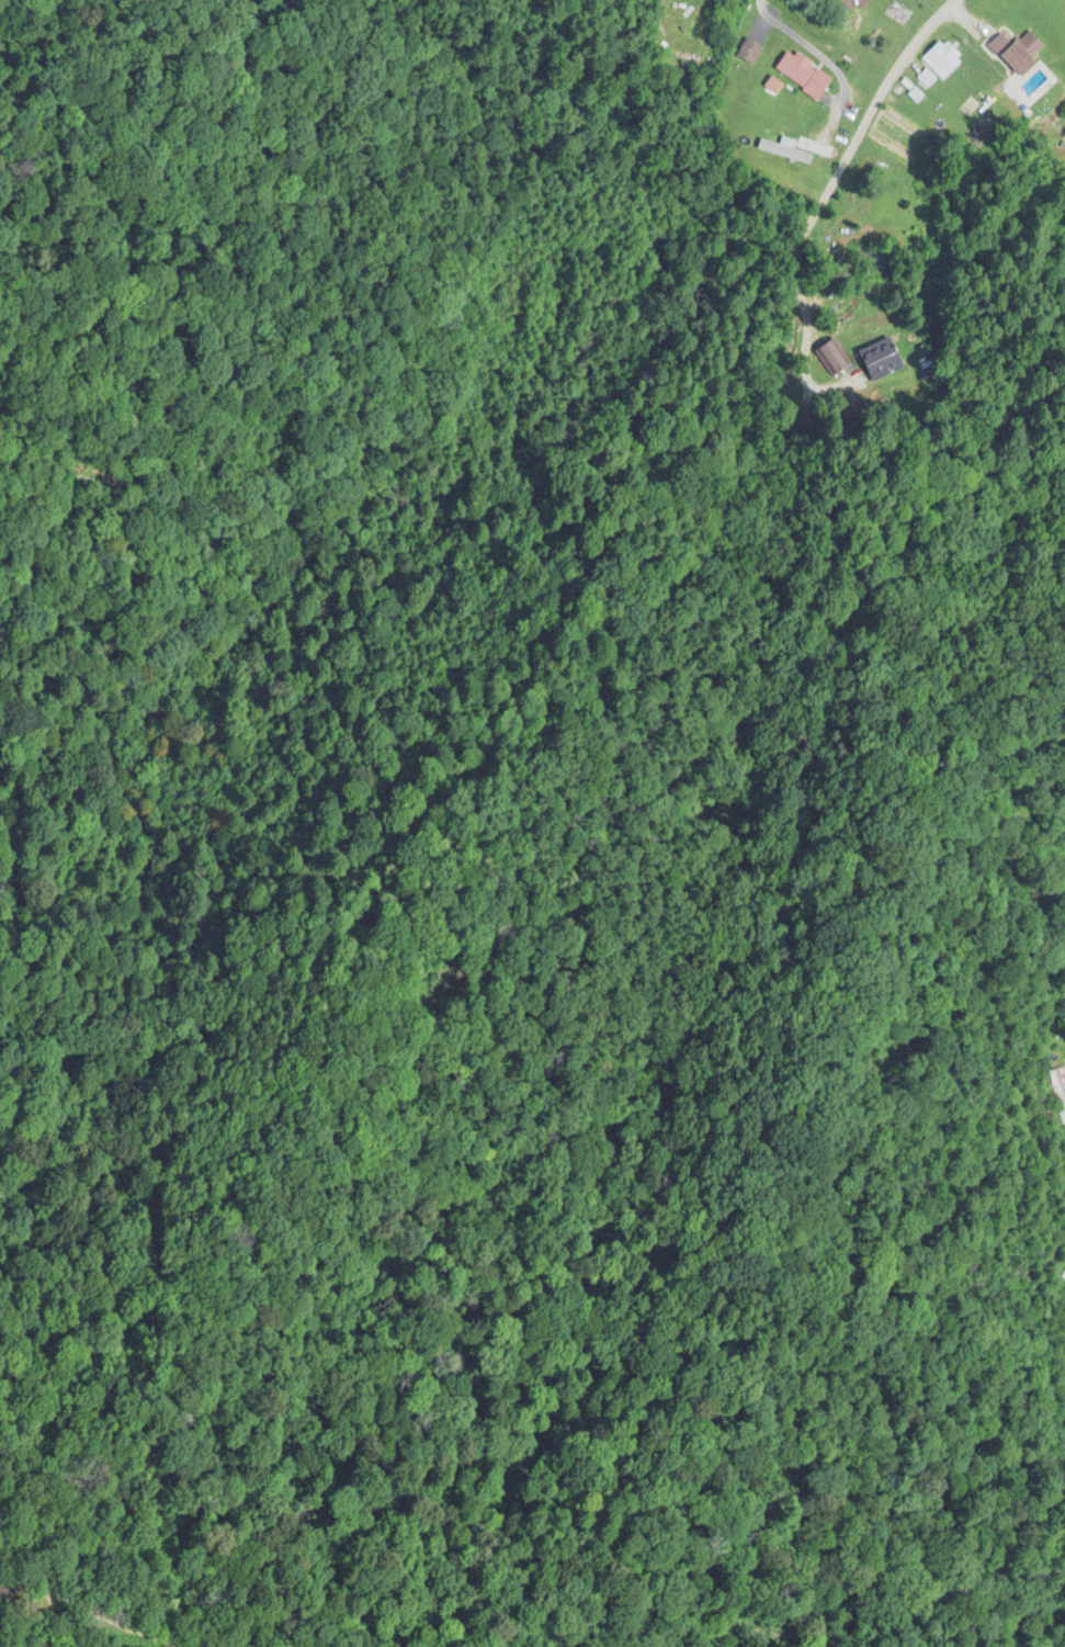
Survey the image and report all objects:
building: (853, 3)
road: (782, 38)
building: (1016, 50)
building: (748, 53)
building: (942, 60)
building: (803, 75)
building: (772, 87)
building: (783, 150)
road: (830, 183)
building: (835, 358)
building: (883, 361)
building: (1058, 1087)

